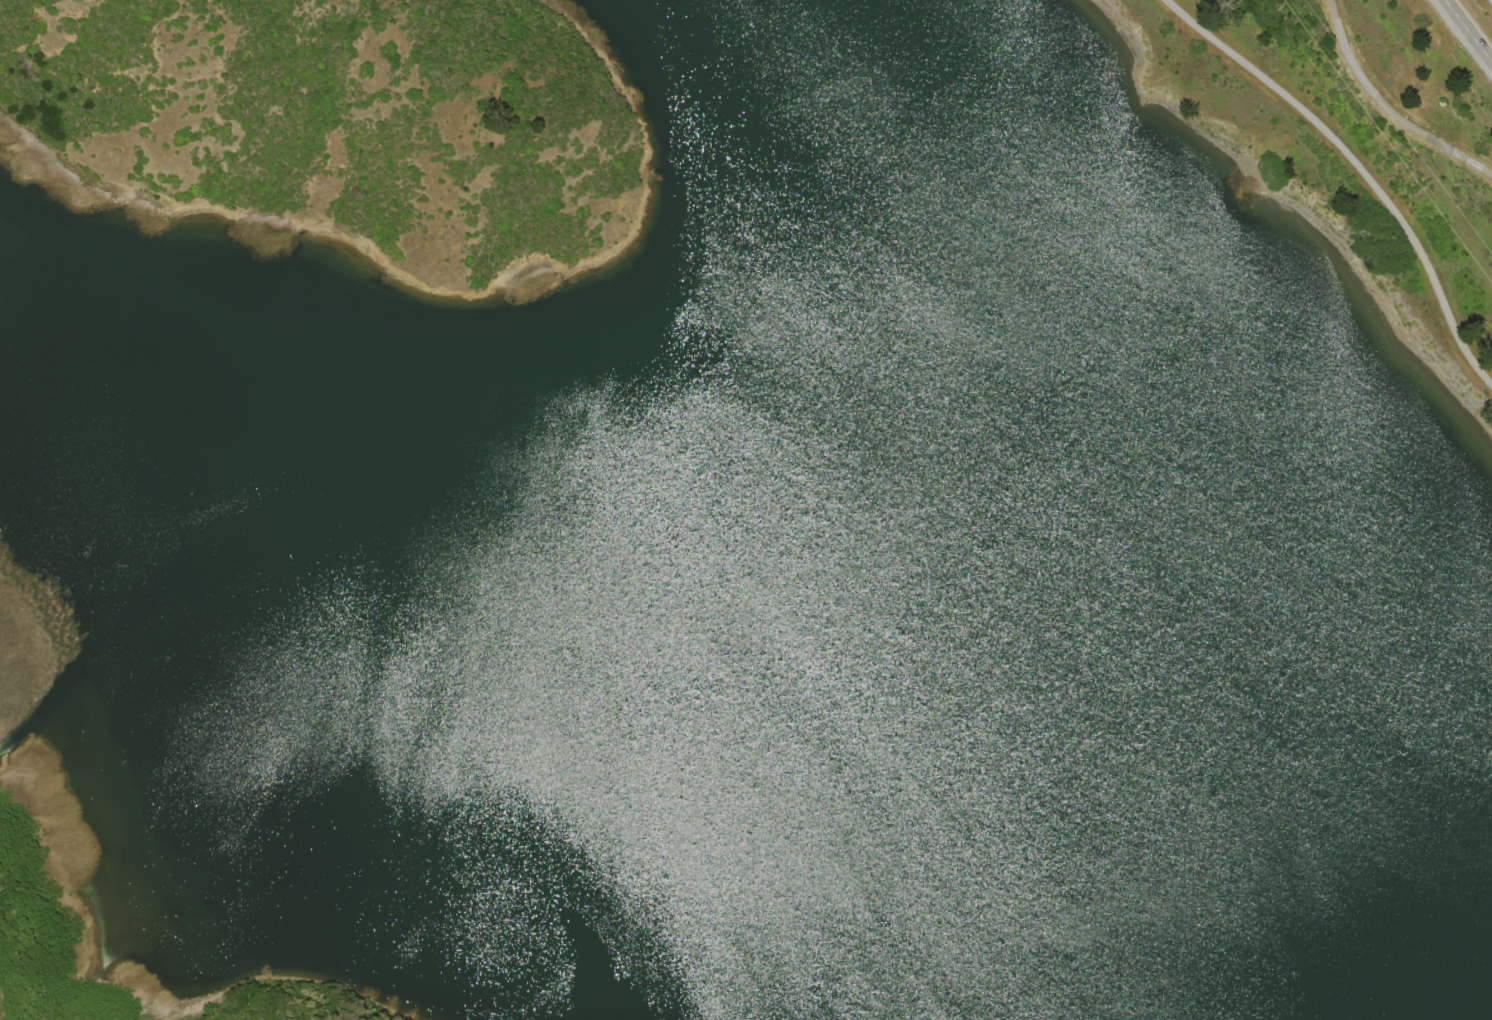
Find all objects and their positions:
road: (1467, 31)
road: (1390, 106)
road: (1359, 167)
road: (1, 995)

